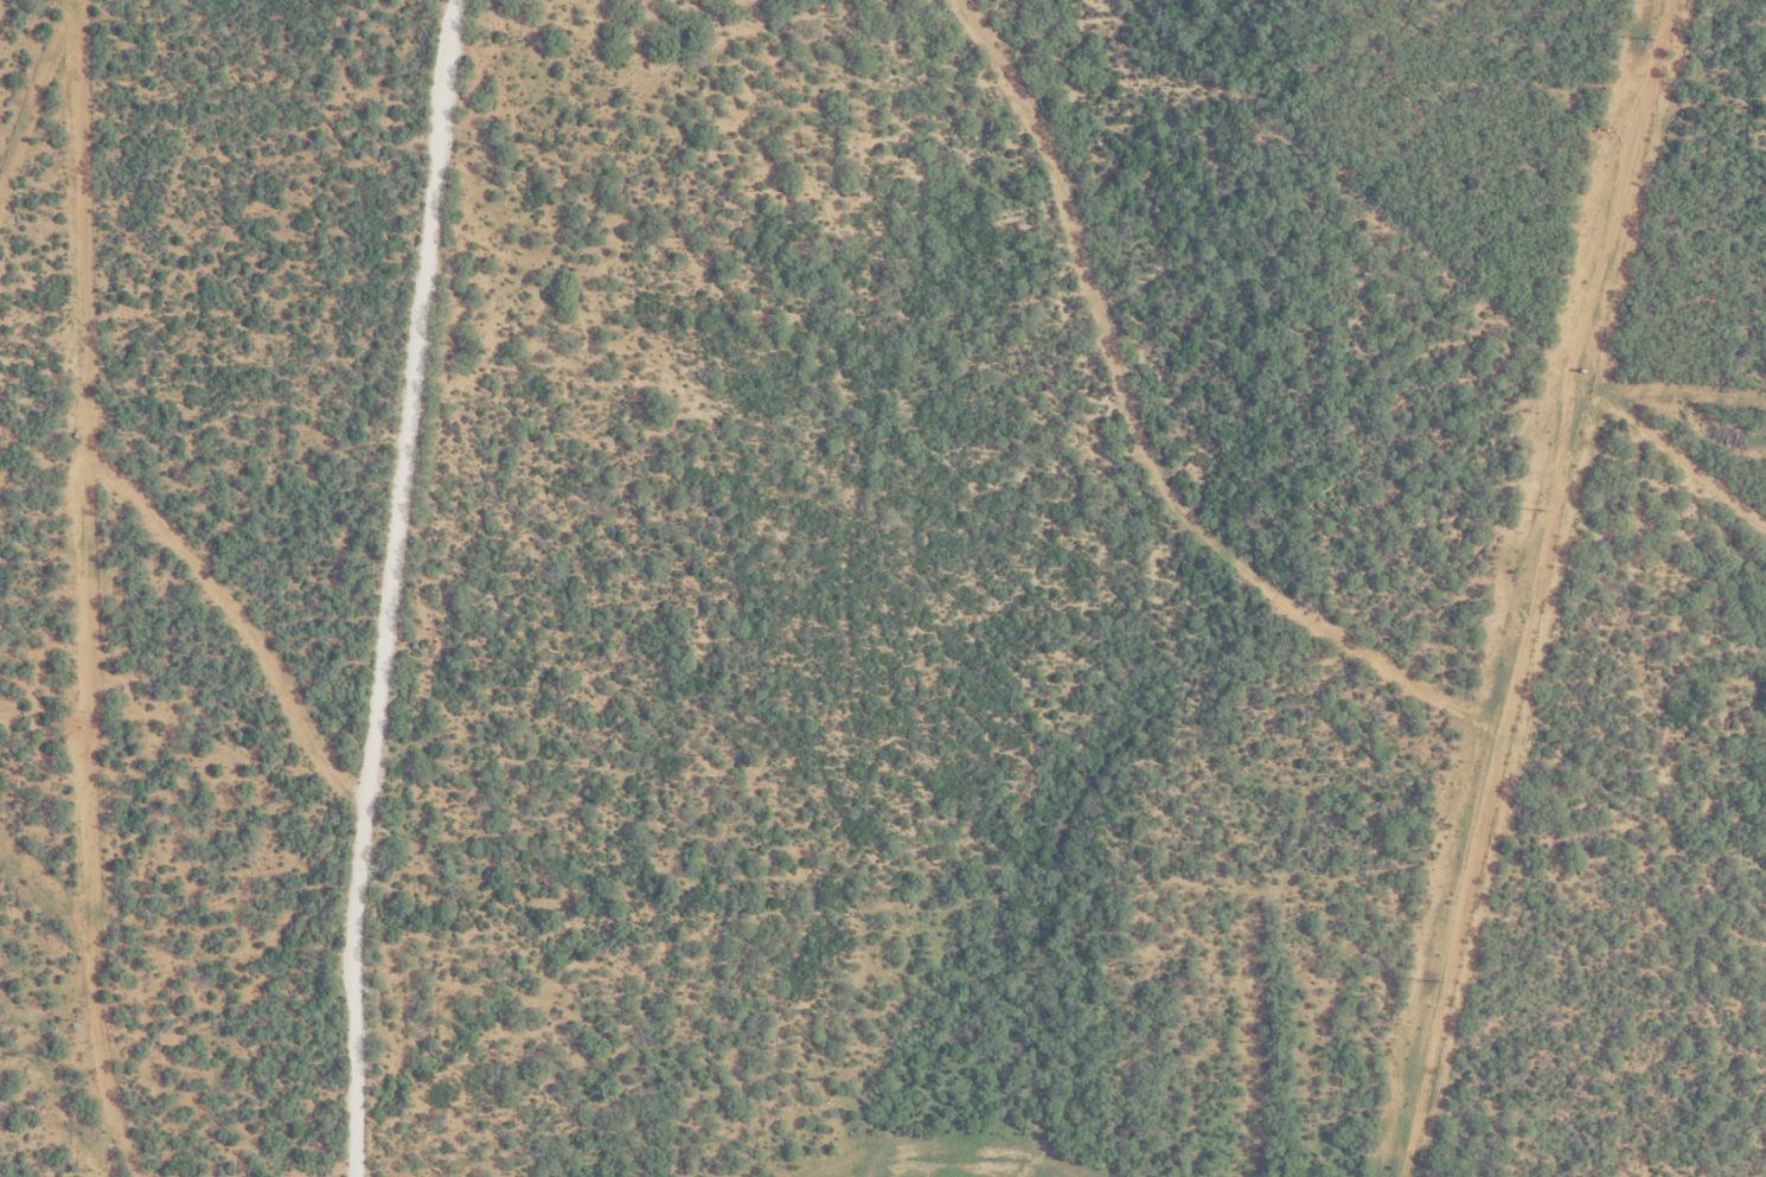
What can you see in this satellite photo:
power tower: (1645, 38)
power tower: (1537, 508)
road: (389, 587)
power tower: (1429, 980)

